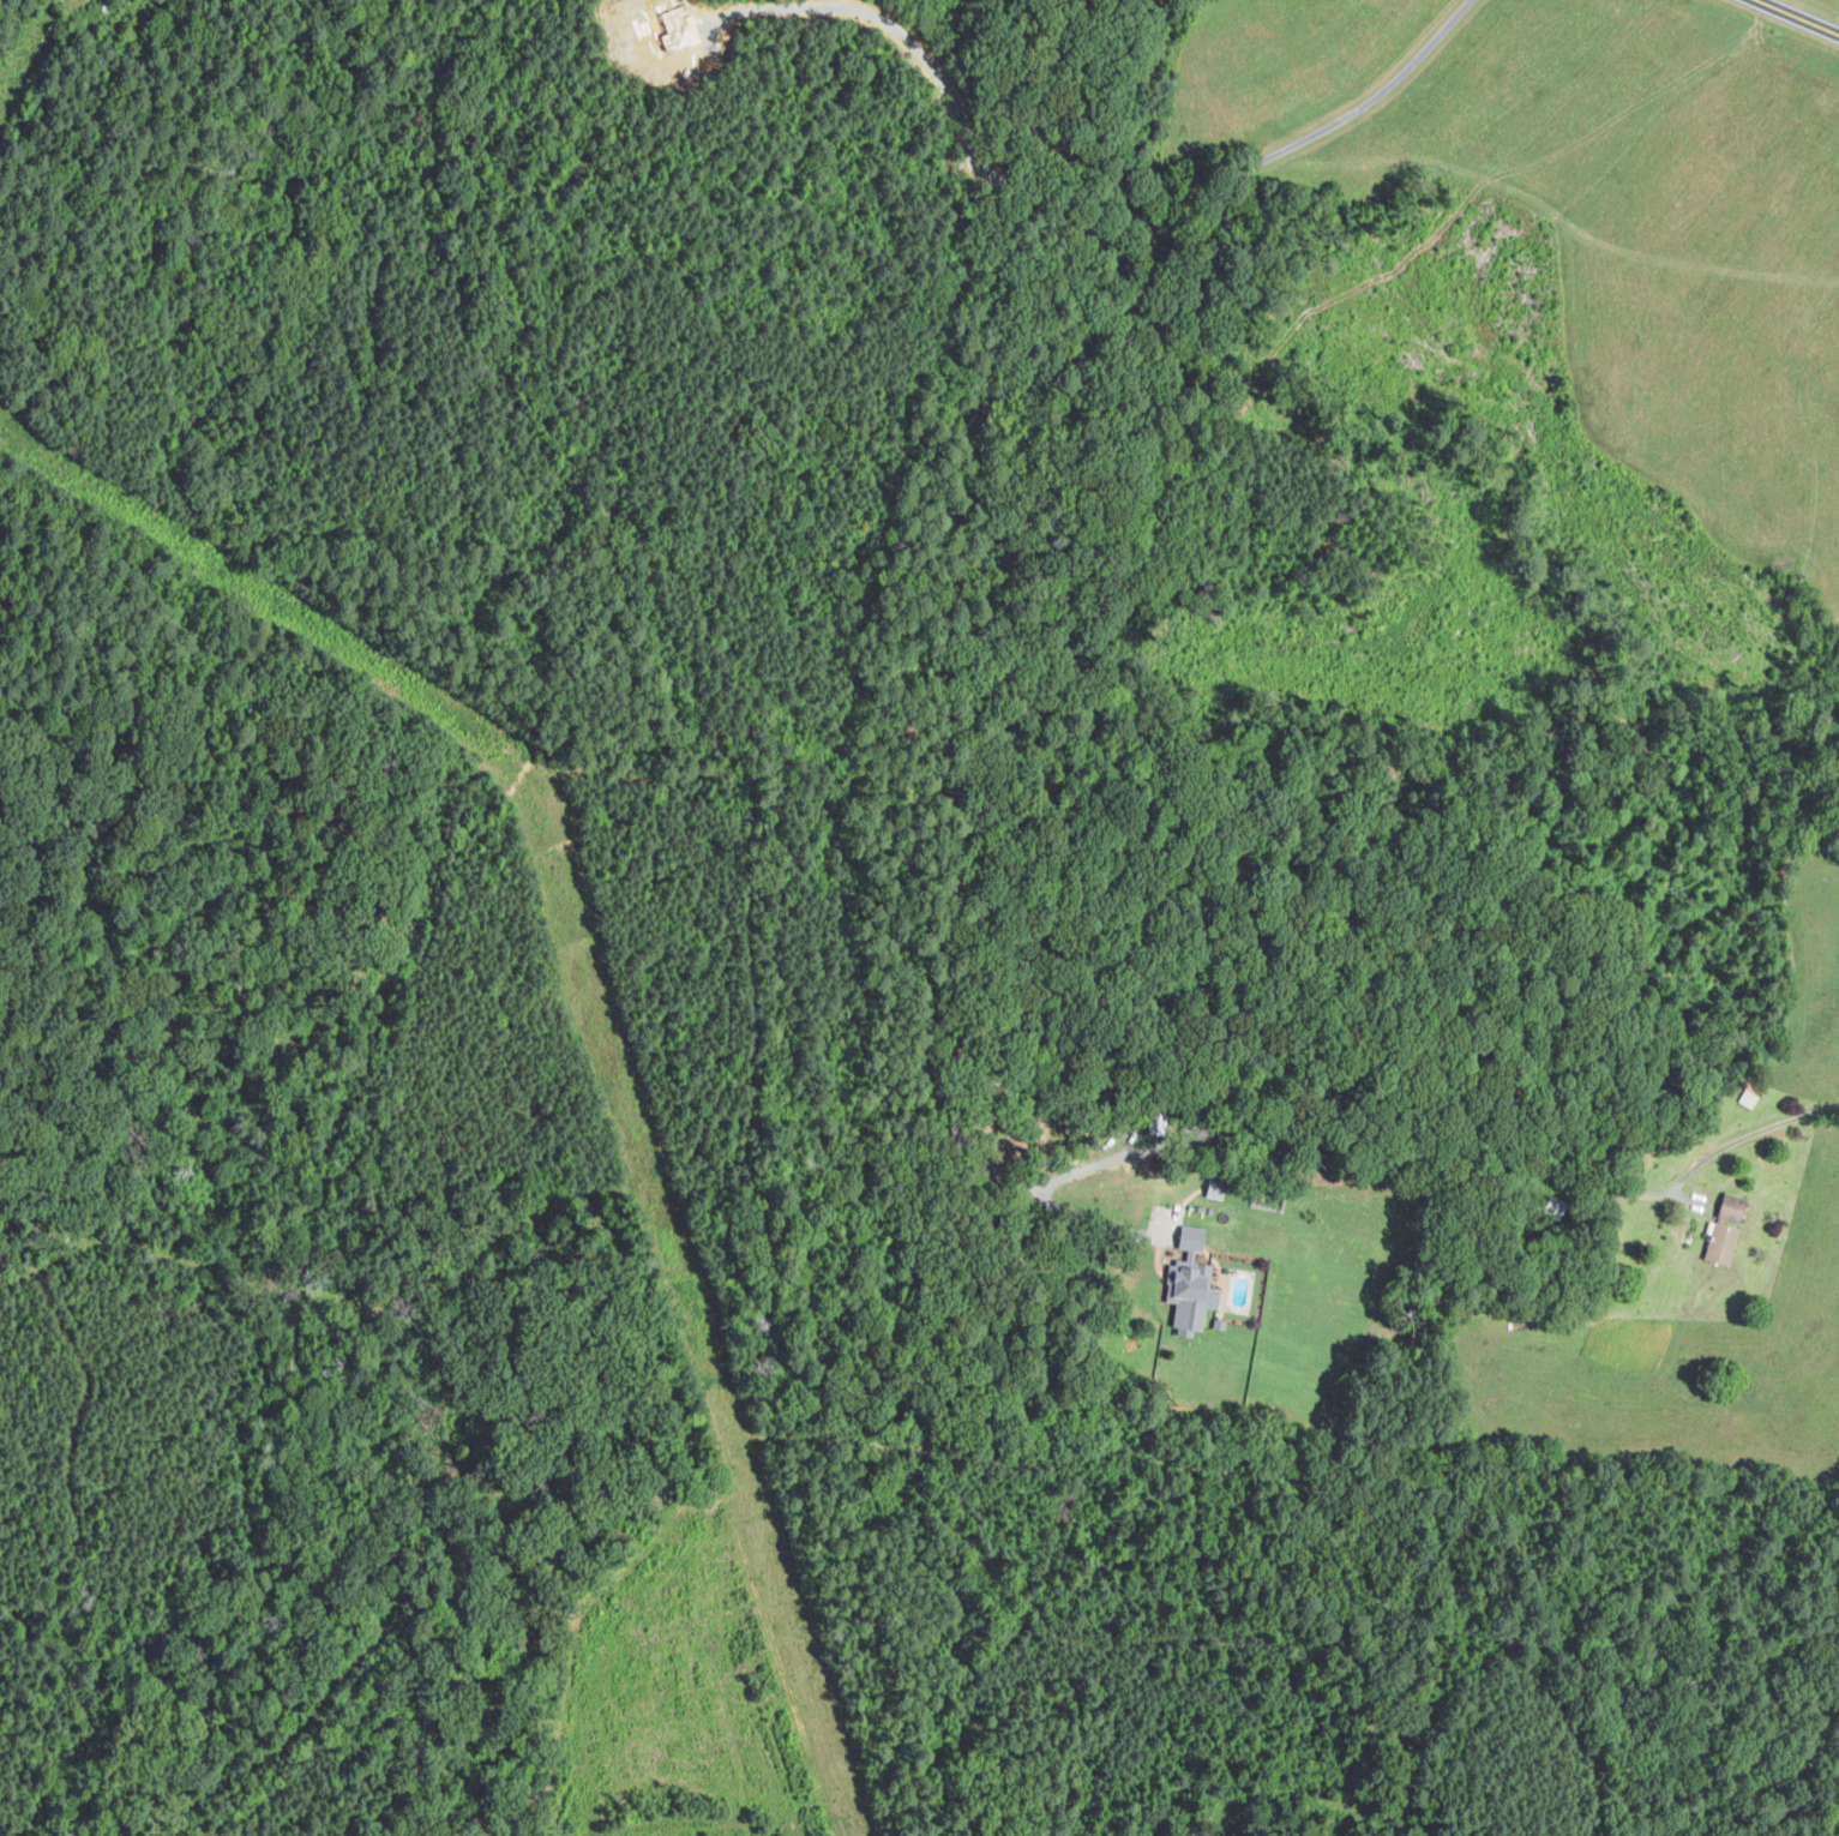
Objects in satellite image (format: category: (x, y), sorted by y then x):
road: (1799, 16)
road: (956, 564)
road: (1739, 1140)
building: (1735, 1207)
building: (1194, 1240)
building: (1724, 1244)

